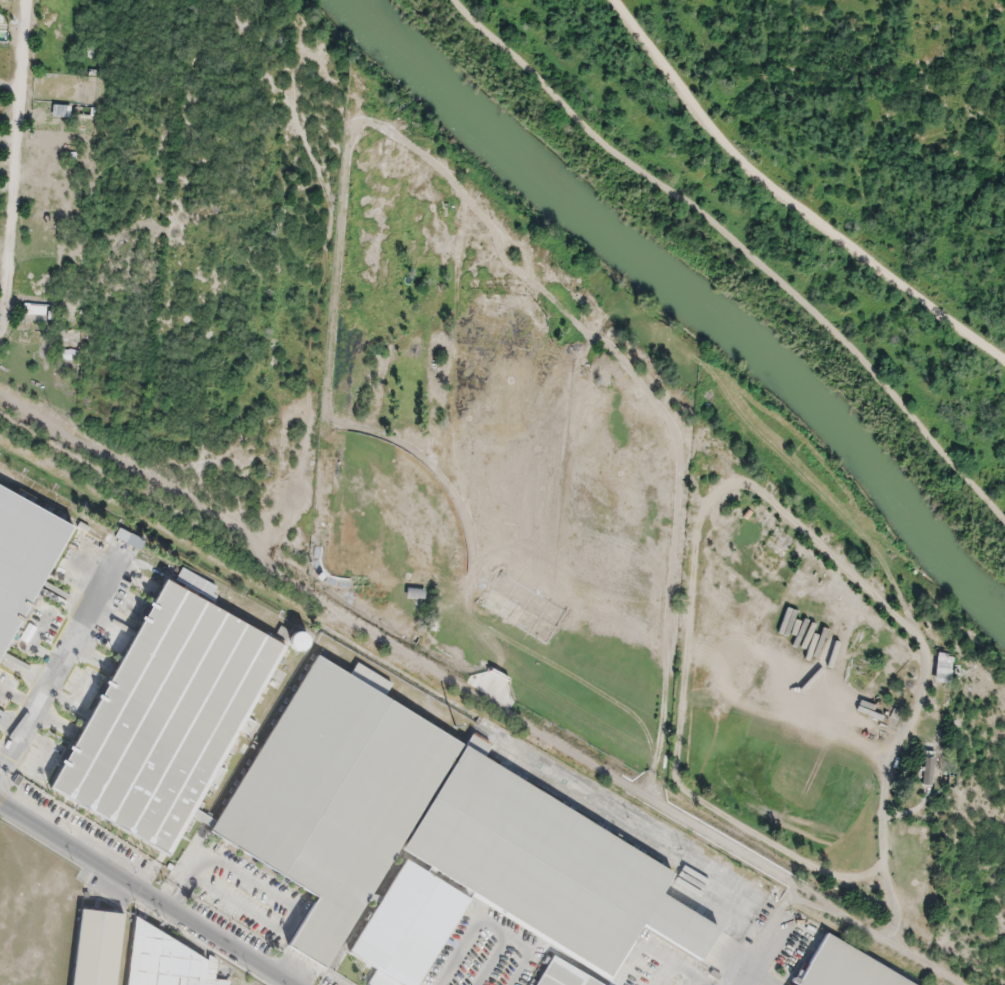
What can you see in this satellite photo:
road: (14, 169)
road: (787, 200)
road: (741, 246)
river: (692, 298)
building: (23, 556)
road: (61, 653)
road: (475, 694)
building: (169, 715)
building: (438, 841)
road: (141, 894)
road: (770, 936)
building: (101, 945)
building: (170, 959)
building: (845, 967)

